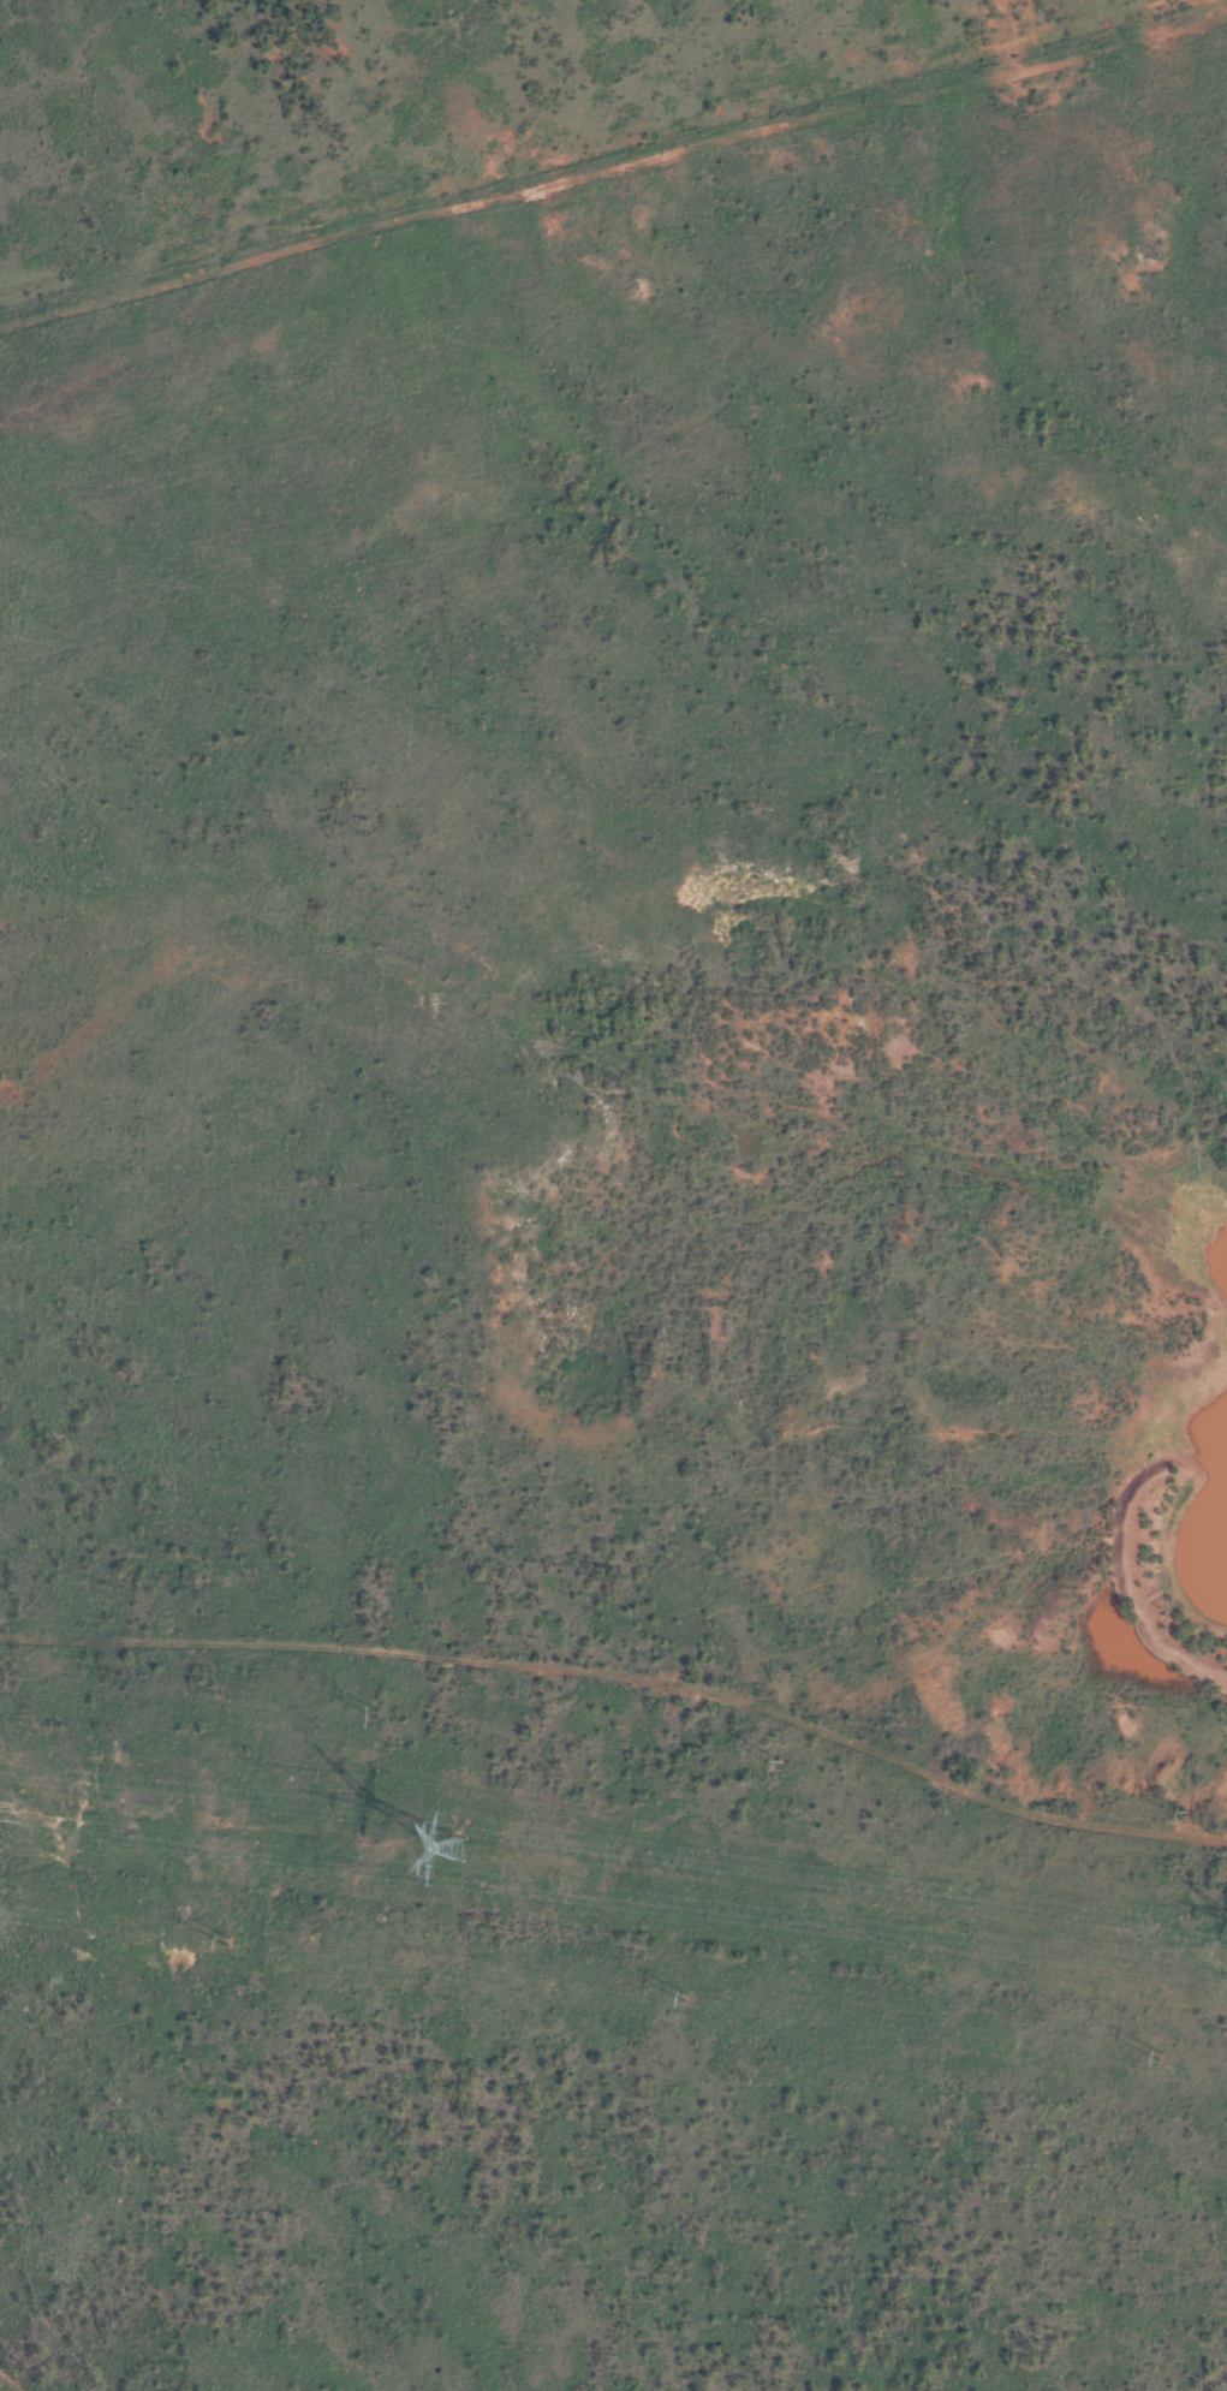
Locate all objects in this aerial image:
power tower: (382, 1715)
power tower: (775, 1767)
power tower: (1184, 1818)
power tower: (439, 1850)
power tower: (228, 1943)
power tower: (687, 2000)
power tower: (1161, 2058)
road: (18, 2375)

